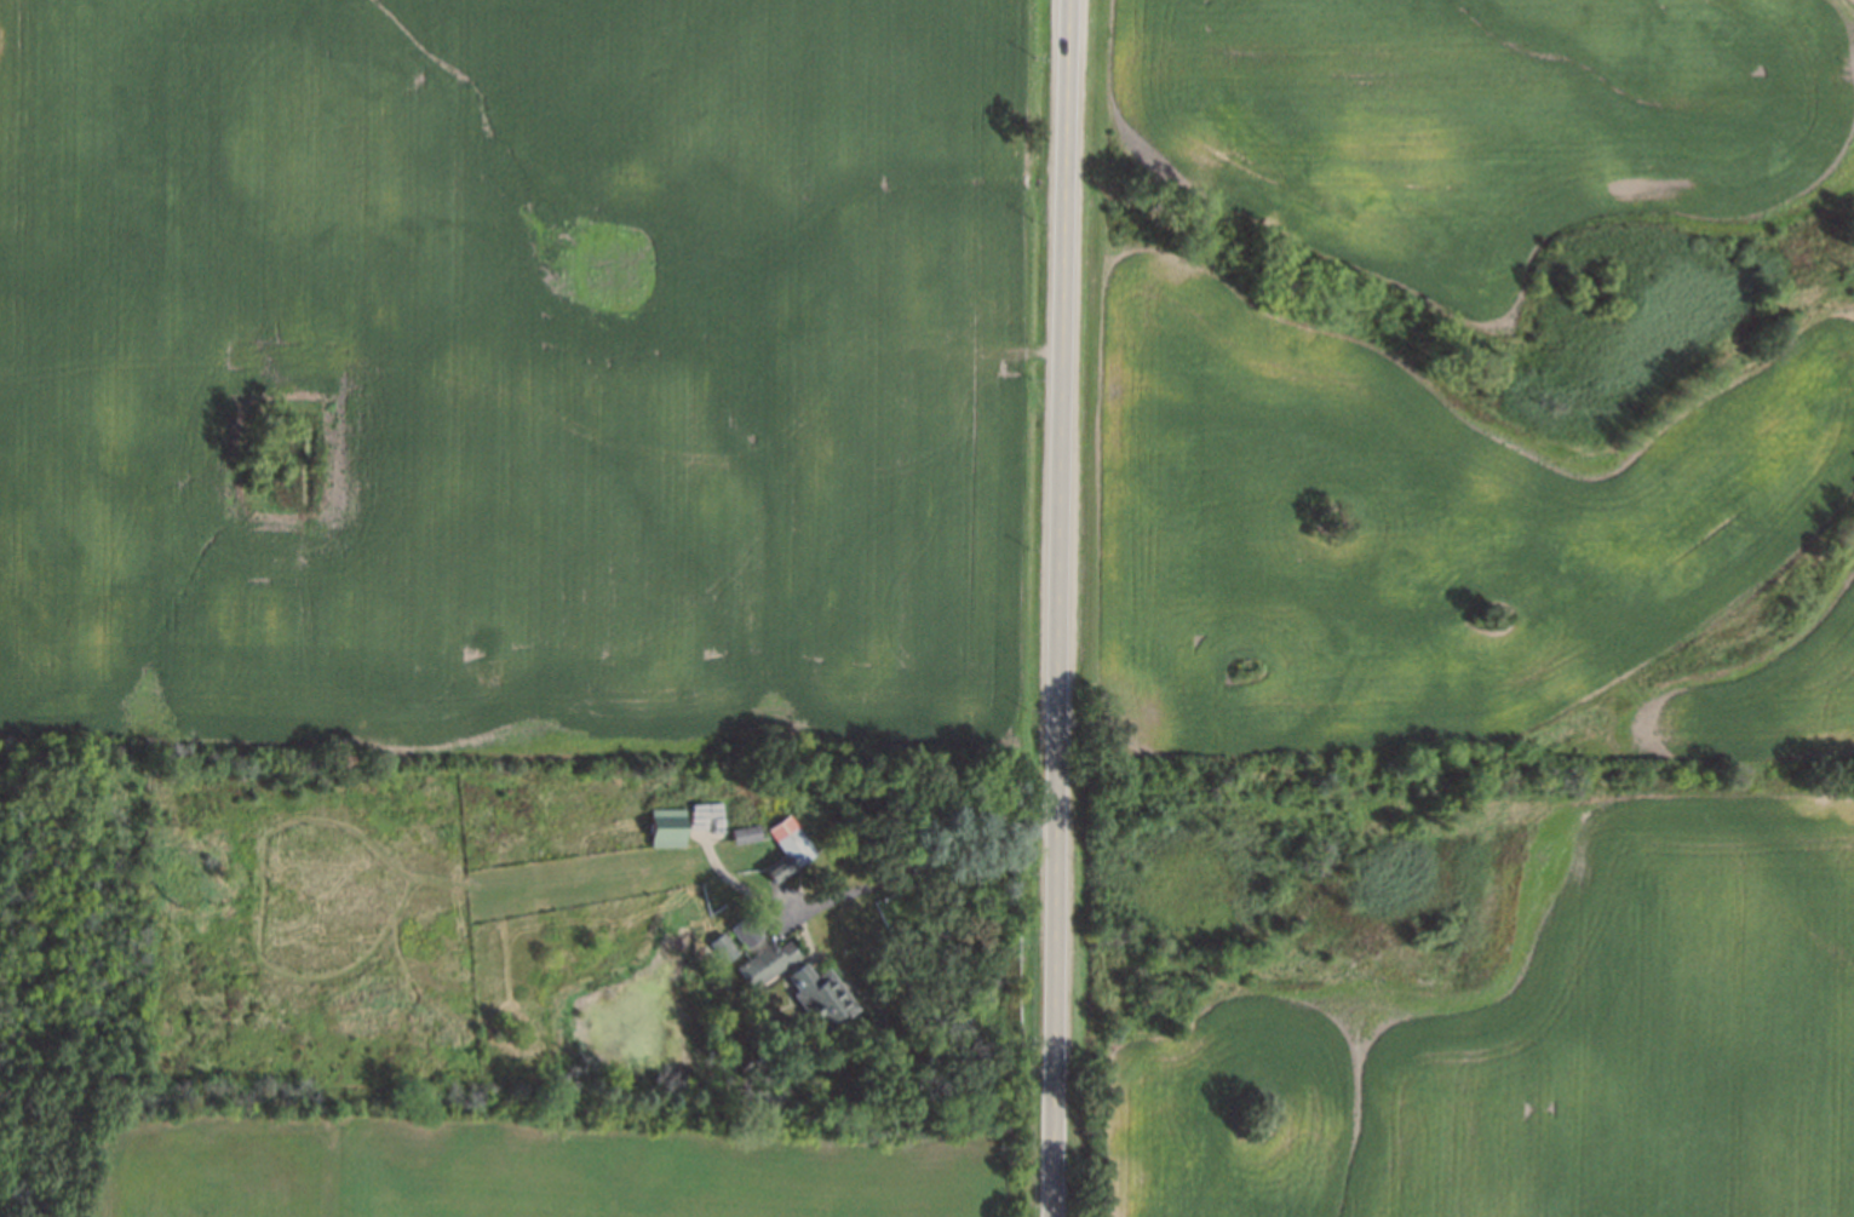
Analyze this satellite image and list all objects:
crop: (1491, 127)
crop: (518, 372)
crop: (1420, 532)
road: (1064, 608)
crop: (1760, 704)
building: (667, 827)
building: (745, 833)
building: (787, 850)
road: (925, 860)
building: (737, 938)
building: (768, 961)
building: (821, 997)
crop: (1545, 1045)
crop: (541, 1169)

